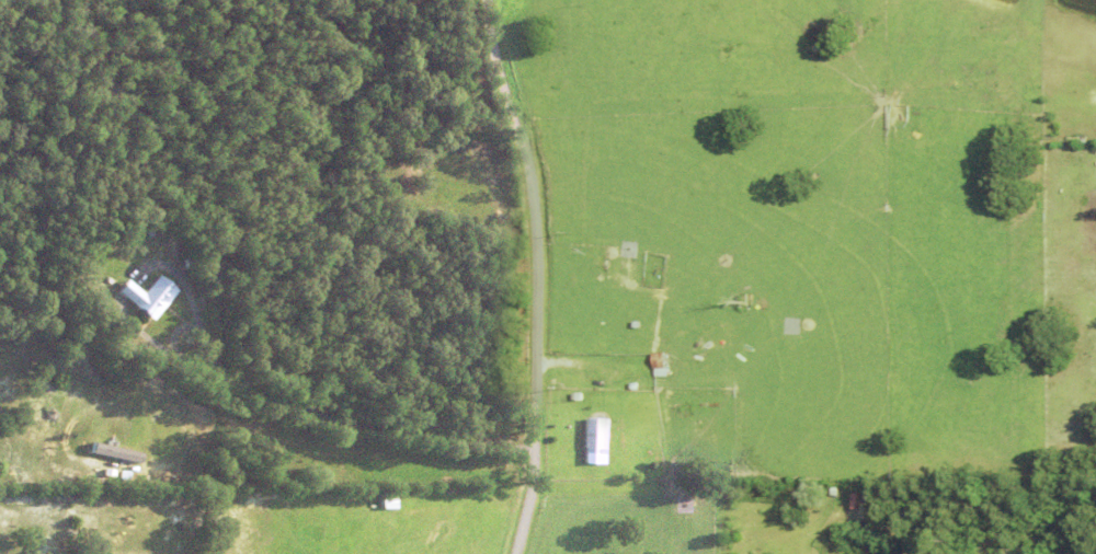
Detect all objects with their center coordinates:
building: (625, 258)
building: (189, 263)
road: (536, 274)
building: (150, 296)
building: (659, 365)
building: (574, 382)
building: (629, 386)
building: (575, 396)
building: (701, 435)
building: (596, 440)
building: (118, 451)

